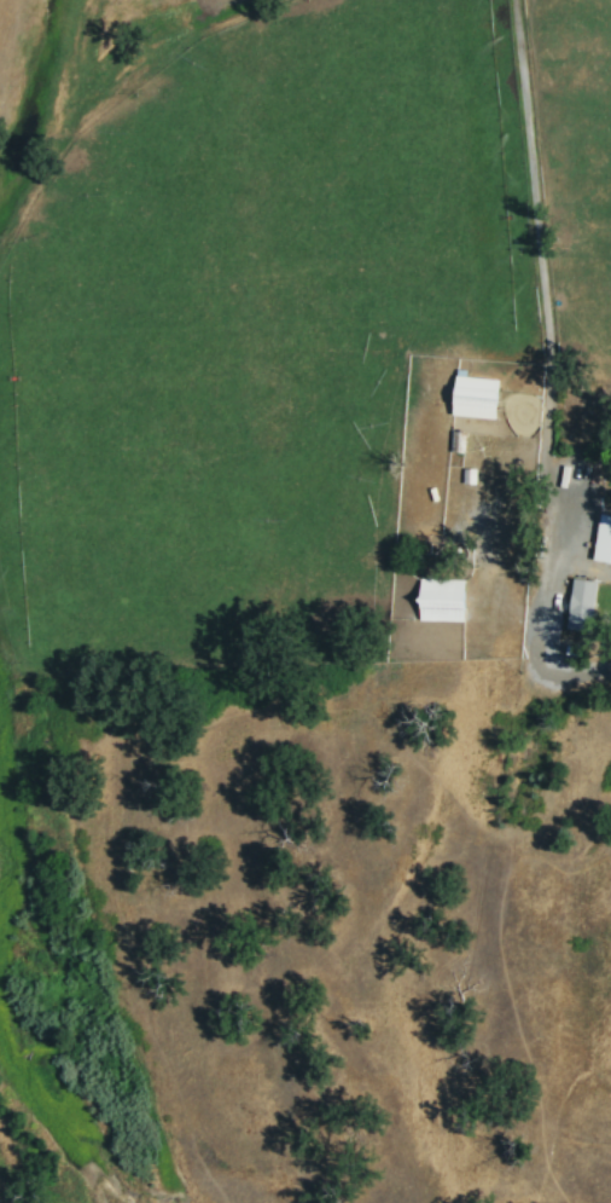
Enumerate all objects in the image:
building: (477, 394)
building: (604, 537)
building: (442, 597)
building: (582, 602)

